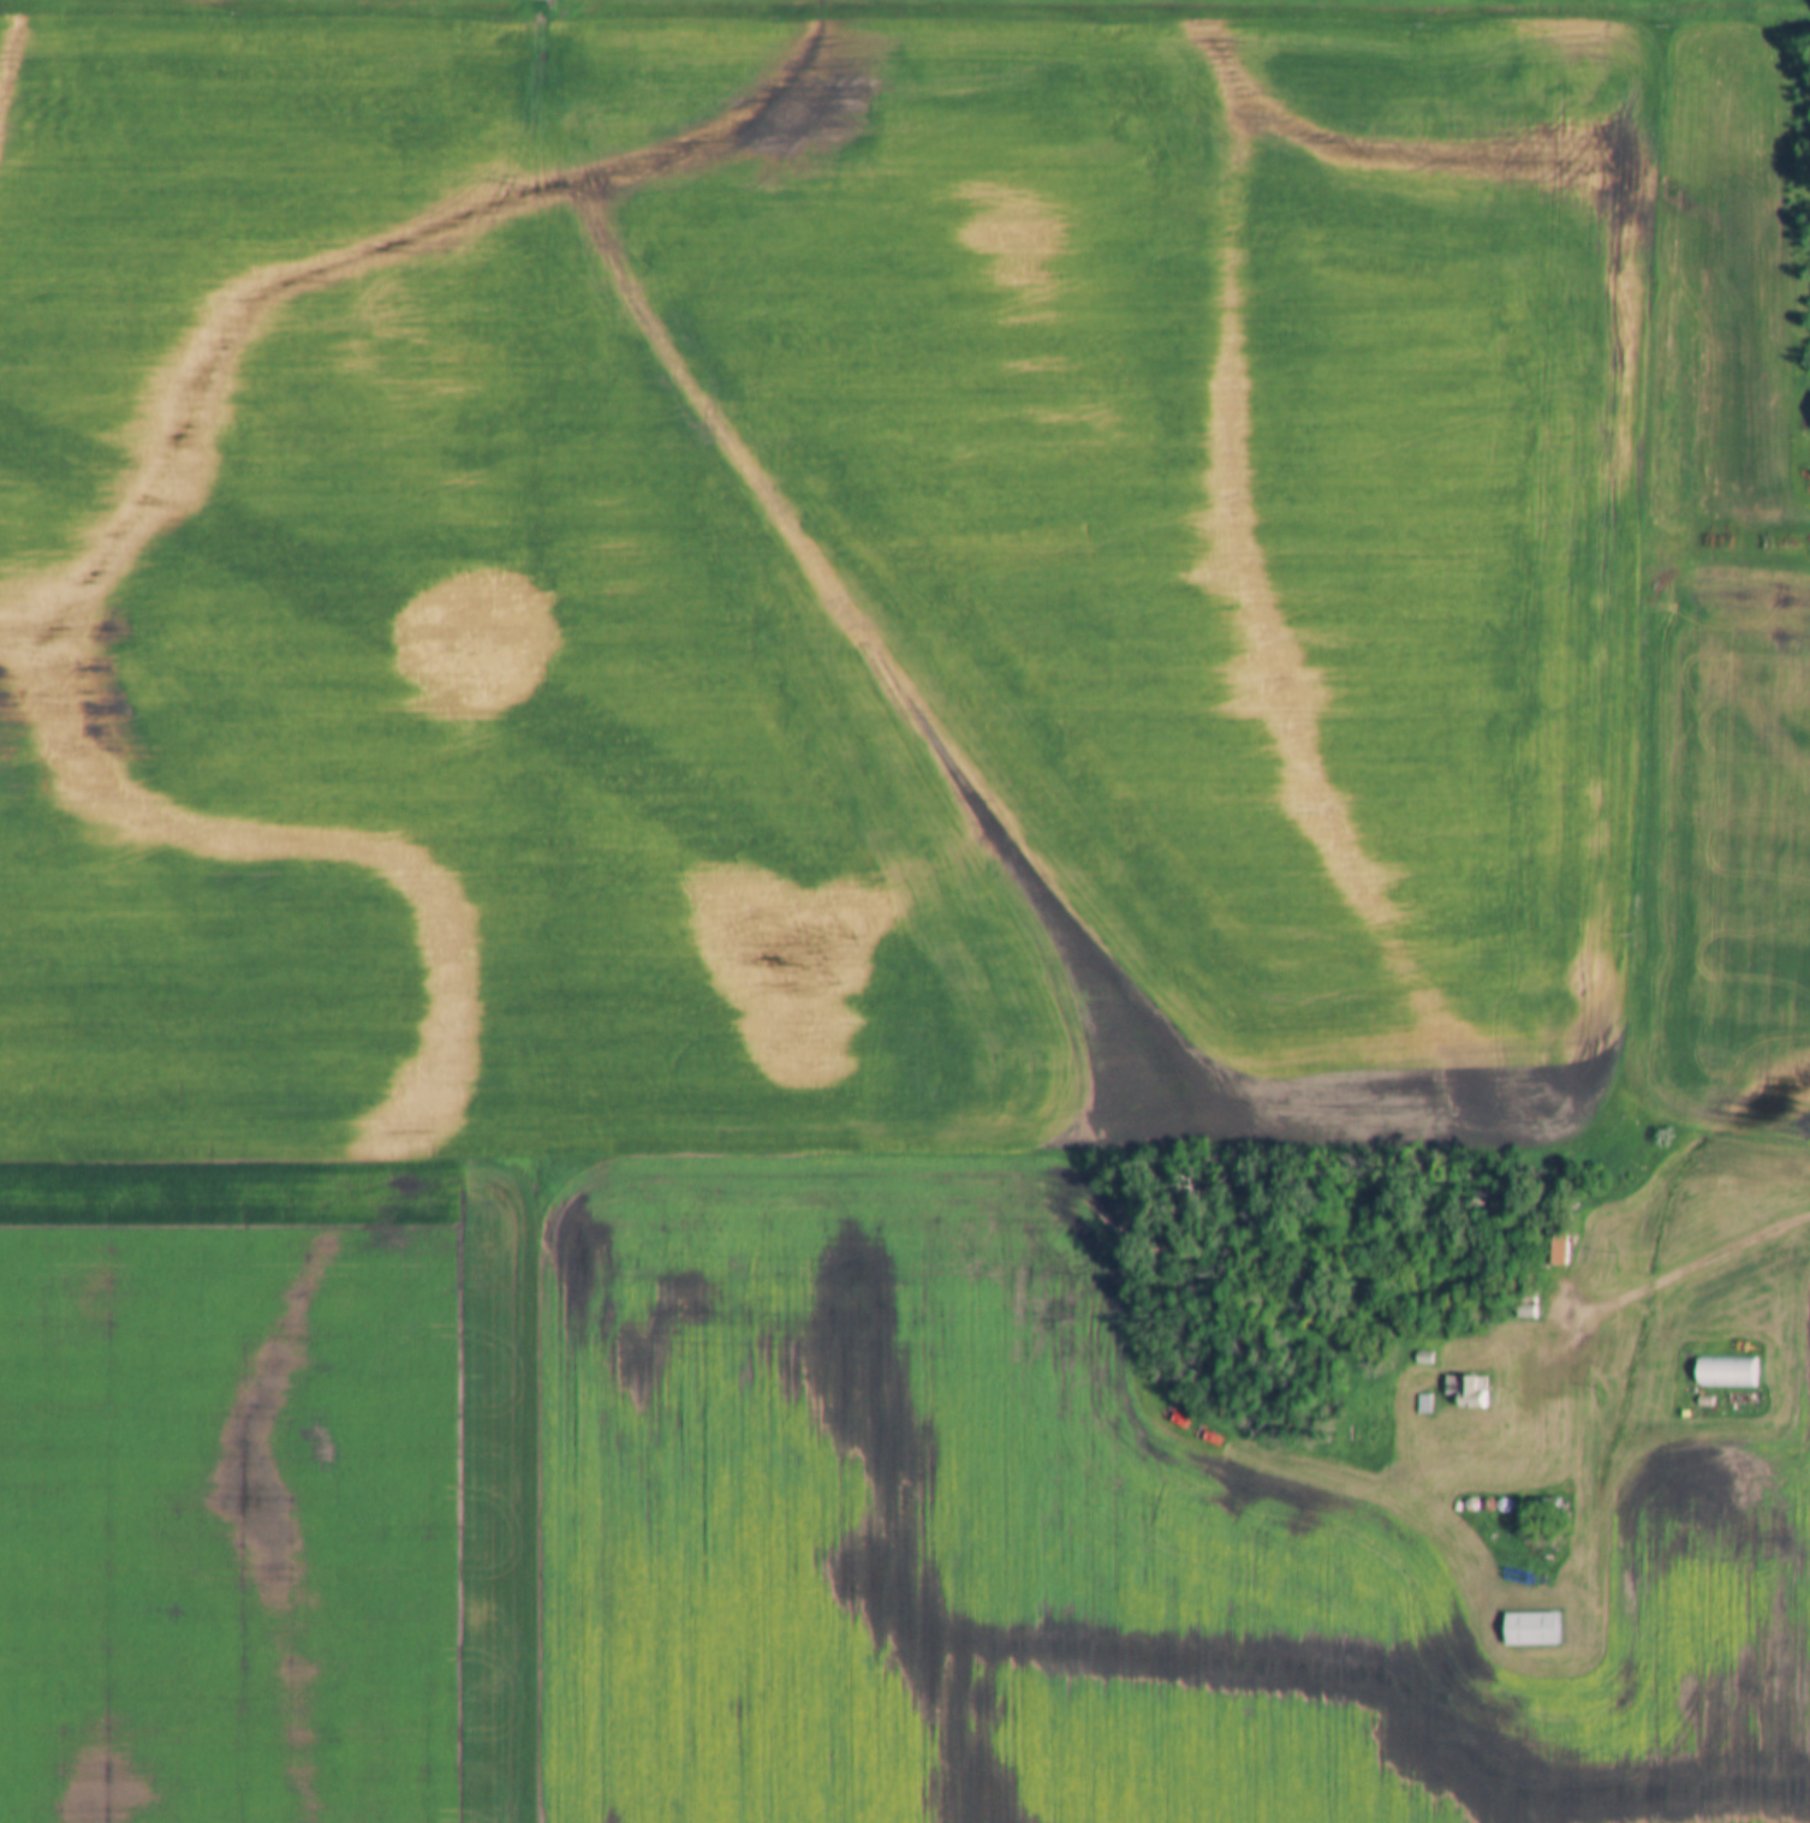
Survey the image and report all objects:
building: (1555, 1246)
road: (1695, 1269)
building: (1525, 1309)
building: (1422, 1356)
building: (1723, 1370)
building: (1464, 1389)
building: (1423, 1401)
building: (1529, 1627)

